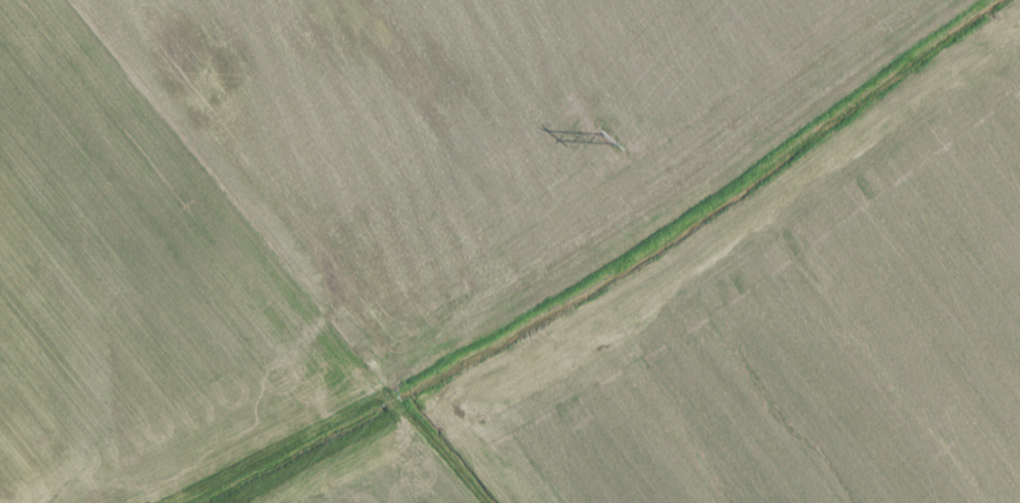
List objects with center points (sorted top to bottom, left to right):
power tower: (605, 145)

